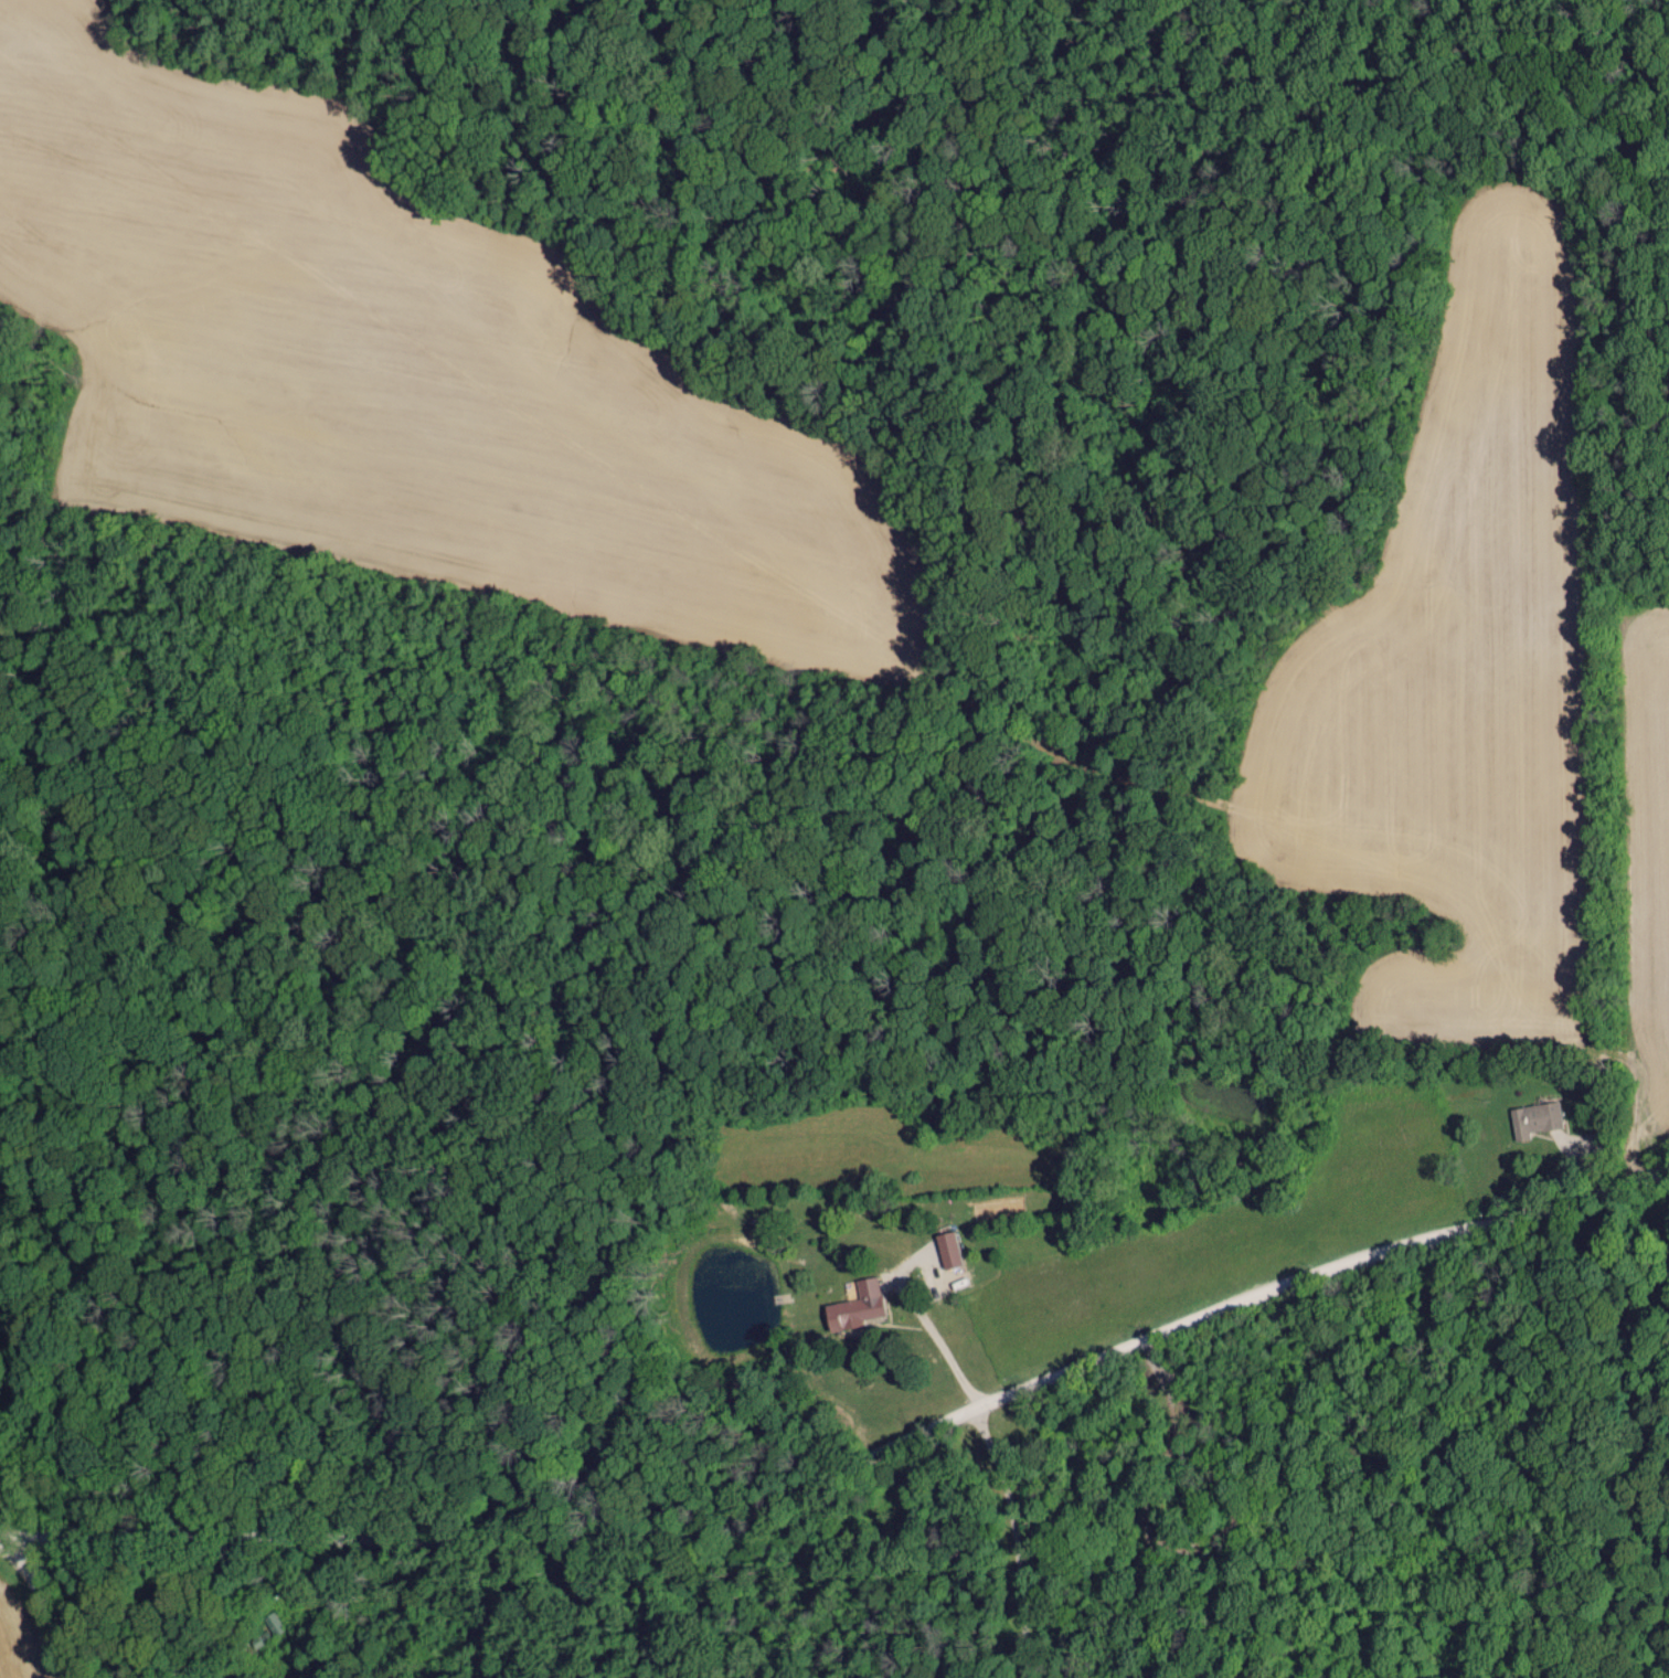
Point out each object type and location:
building: (945, 1247)
building: (854, 1305)
road: (855, 1483)
road: (39, 1607)

